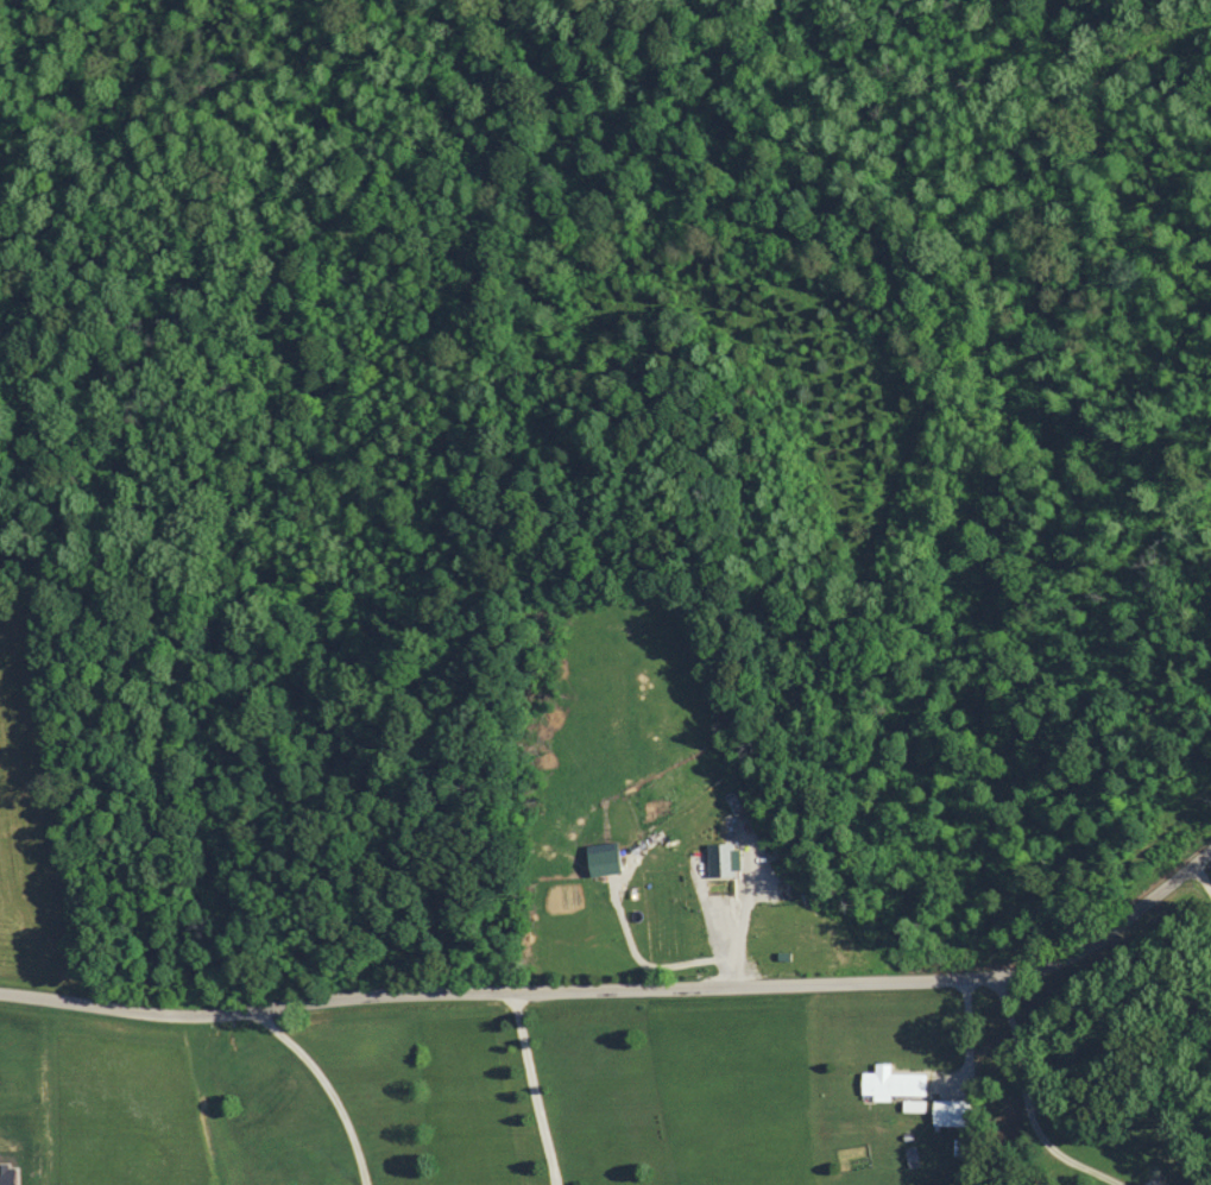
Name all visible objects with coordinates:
road: (623, 987)
building: (889, 1083)
road: (531, 1088)

